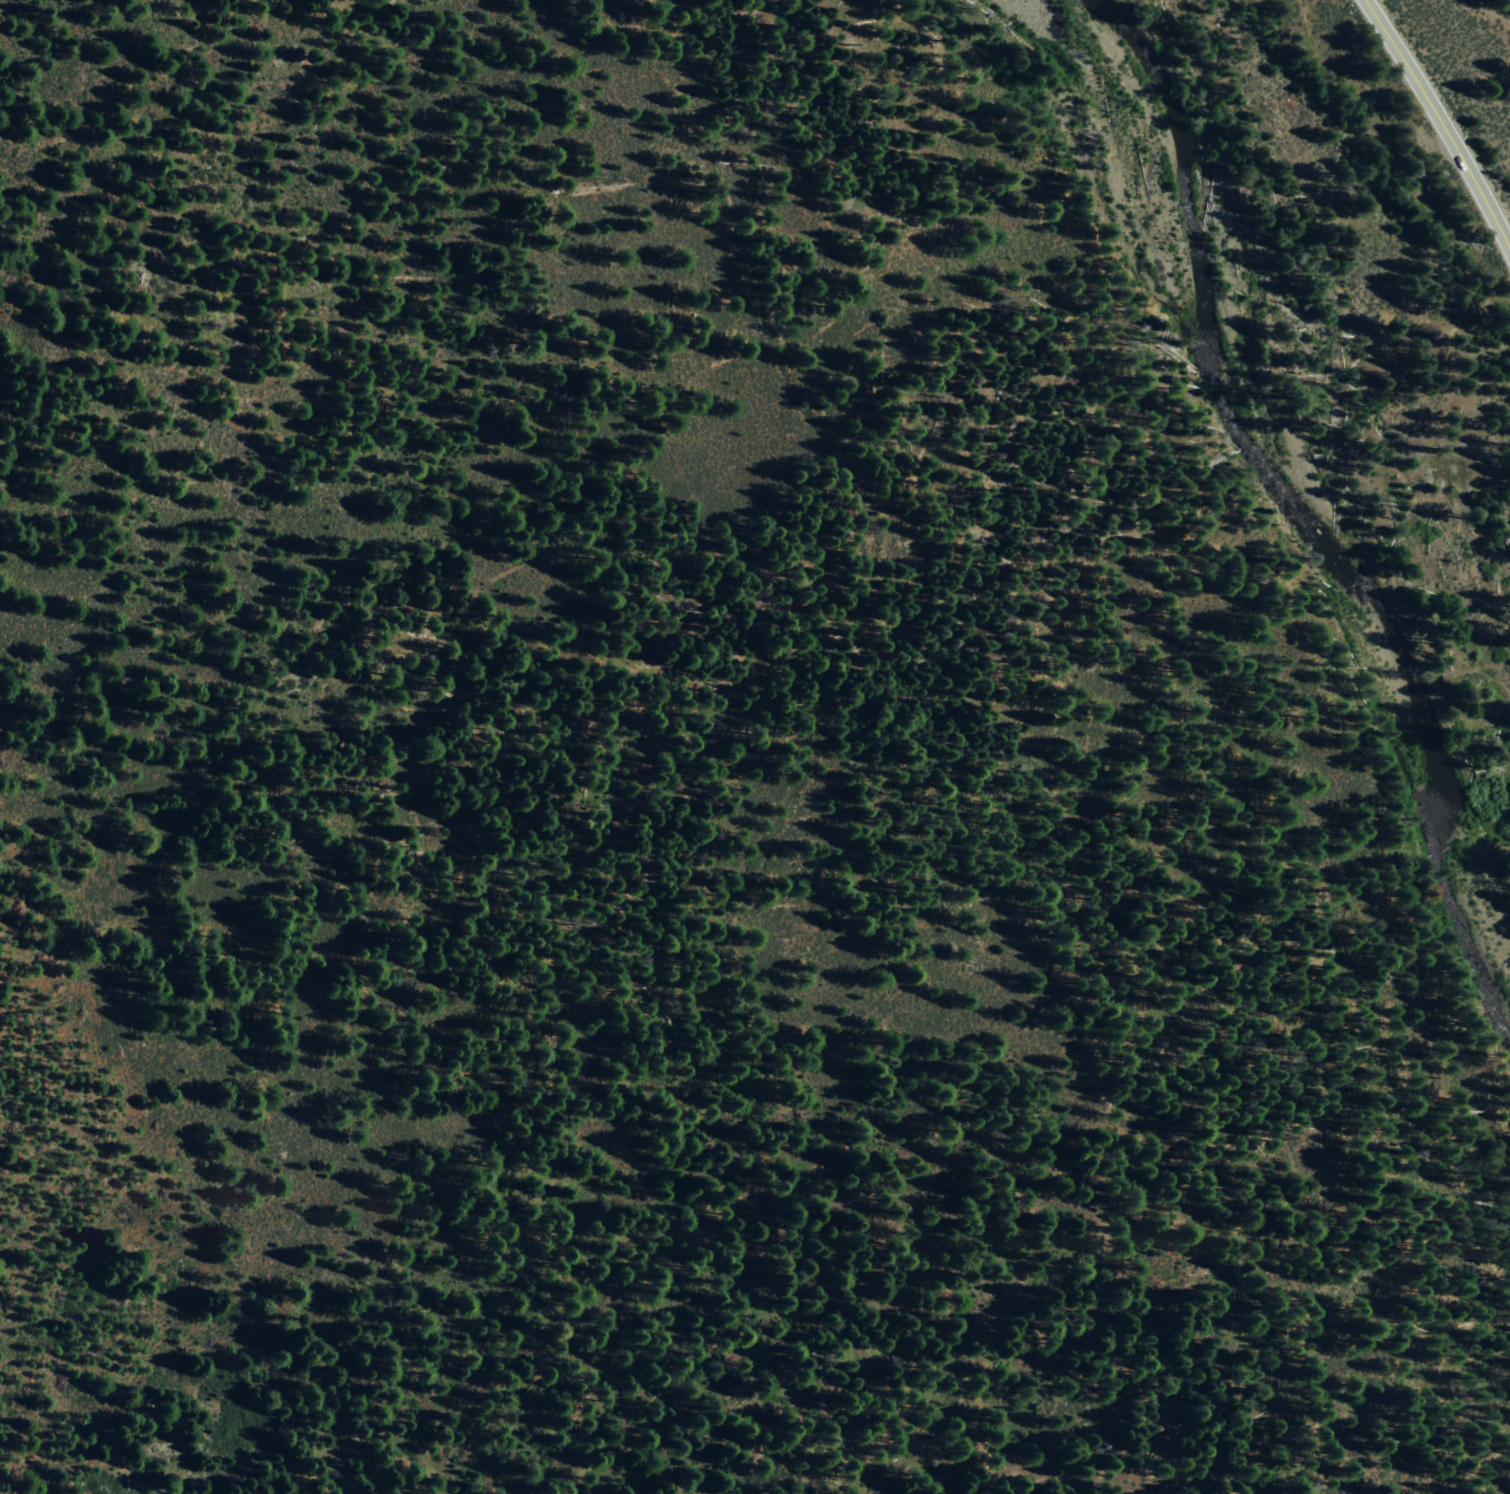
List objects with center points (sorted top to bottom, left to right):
road: (1440, 123)
river: (1298, 515)

